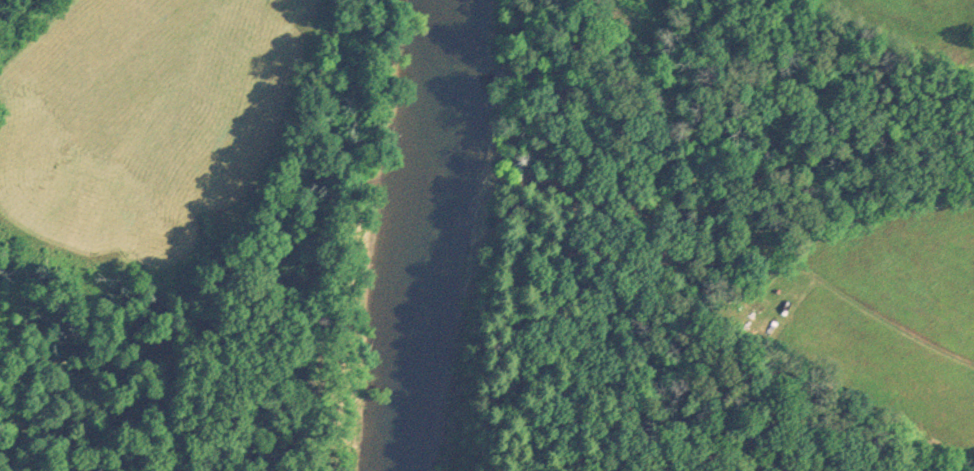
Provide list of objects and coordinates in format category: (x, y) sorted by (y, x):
crop: (913, 27)
river: (419, 234)
road: (803, 281)
crop: (886, 320)

